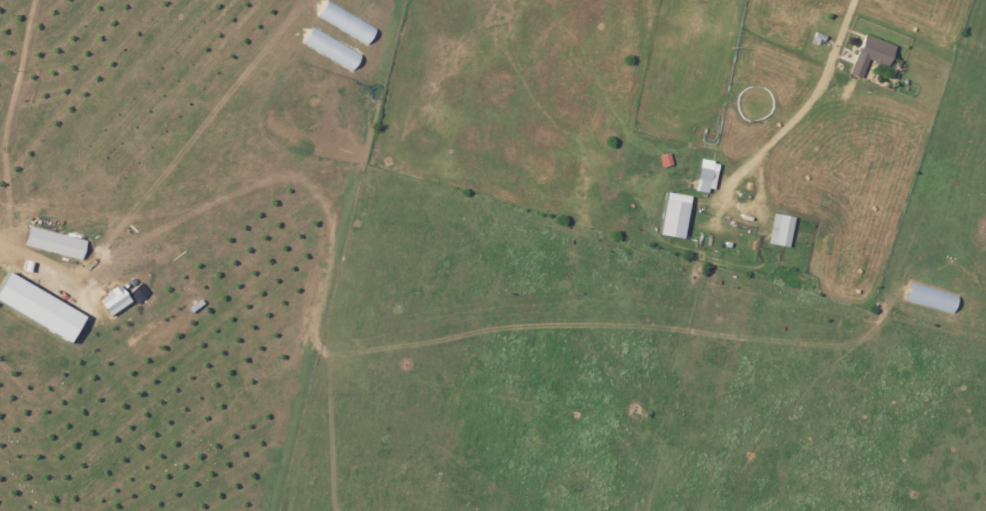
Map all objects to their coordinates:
building: (873, 54)
road: (815, 98)
building: (708, 175)
building: (676, 215)
building: (782, 230)
building: (56, 242)
road: (38, 257)
building: (41, 307)

